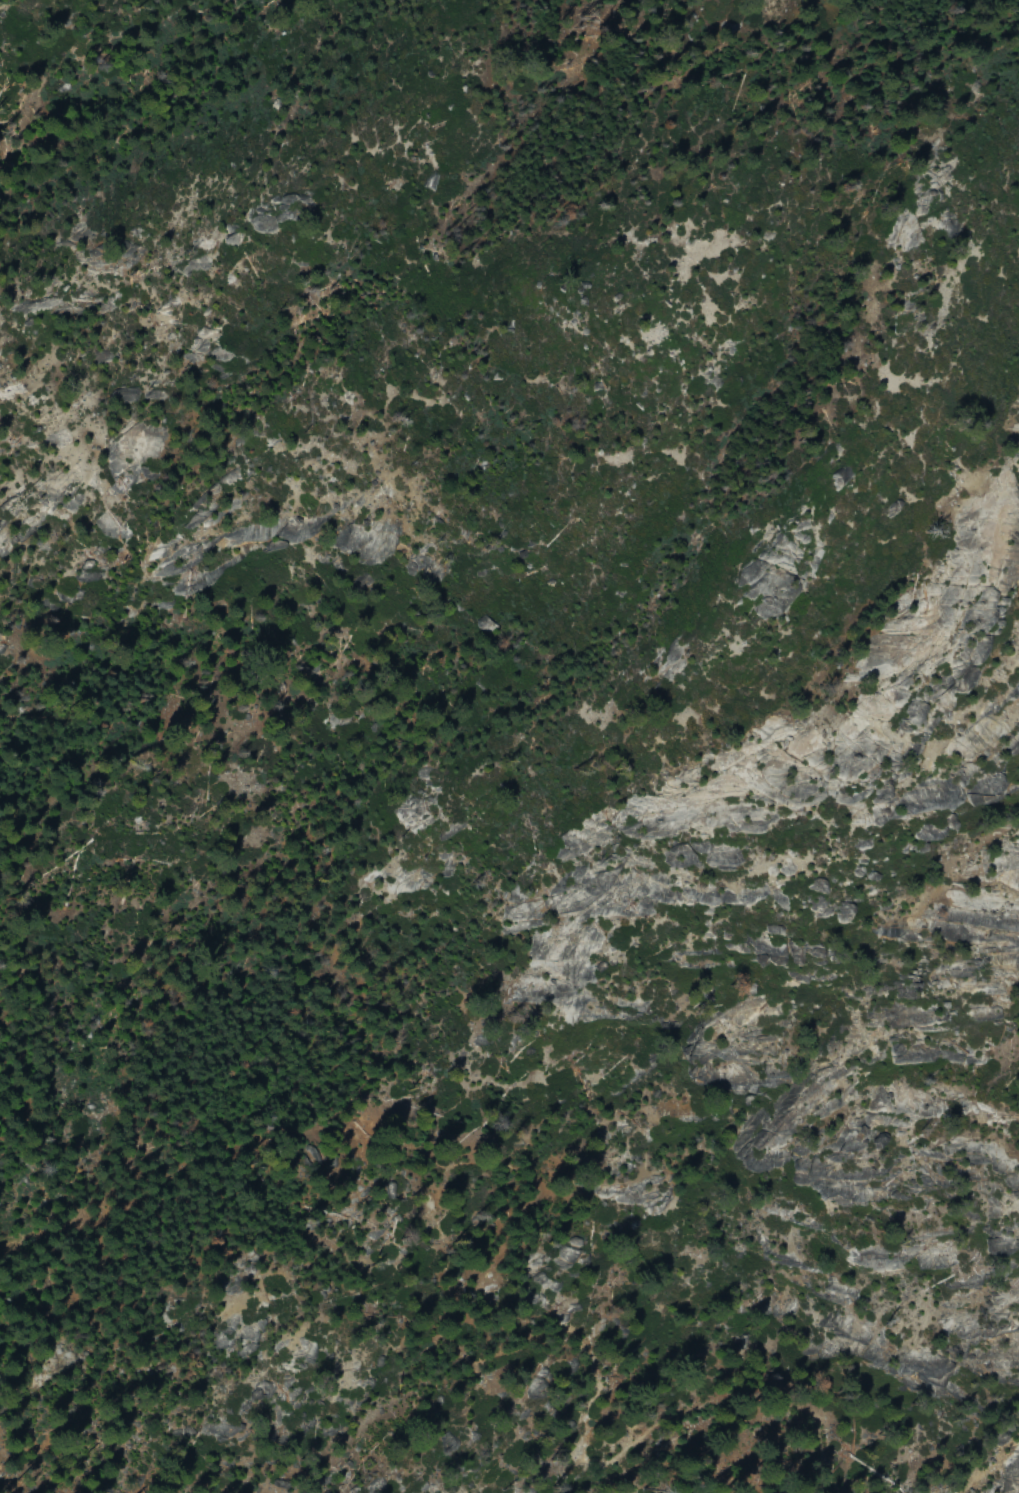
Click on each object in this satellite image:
road: (424, 1192)
road: (999, 1483)

